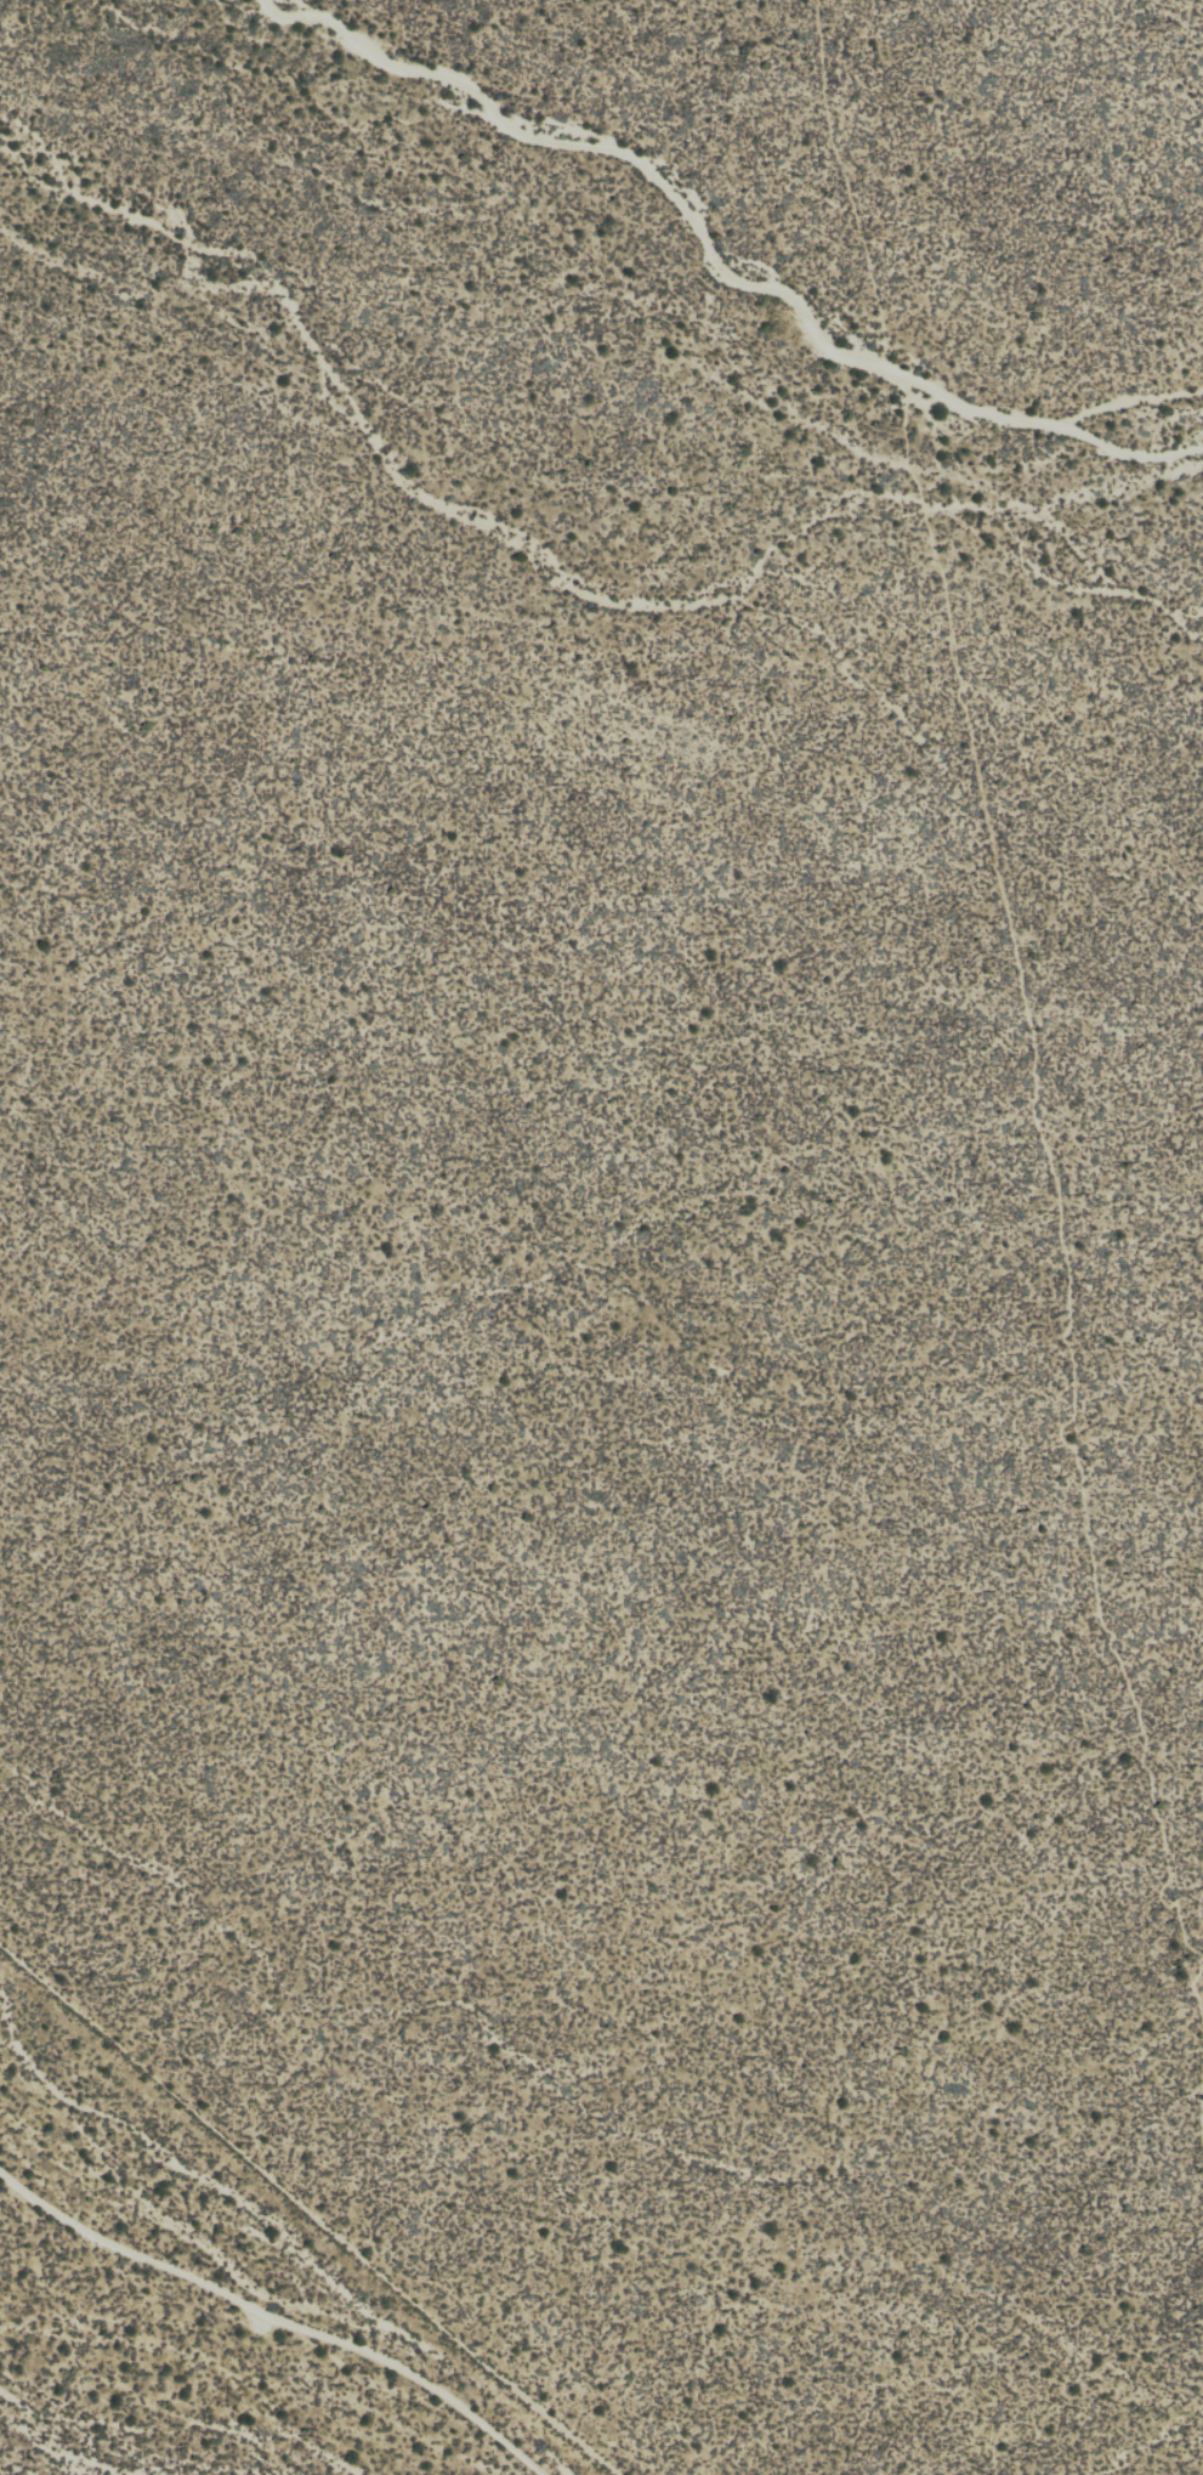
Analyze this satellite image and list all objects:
road: (714, 260)
road: (1028, 1025)
road: (1199, 2105)
road: (276, 2318)

